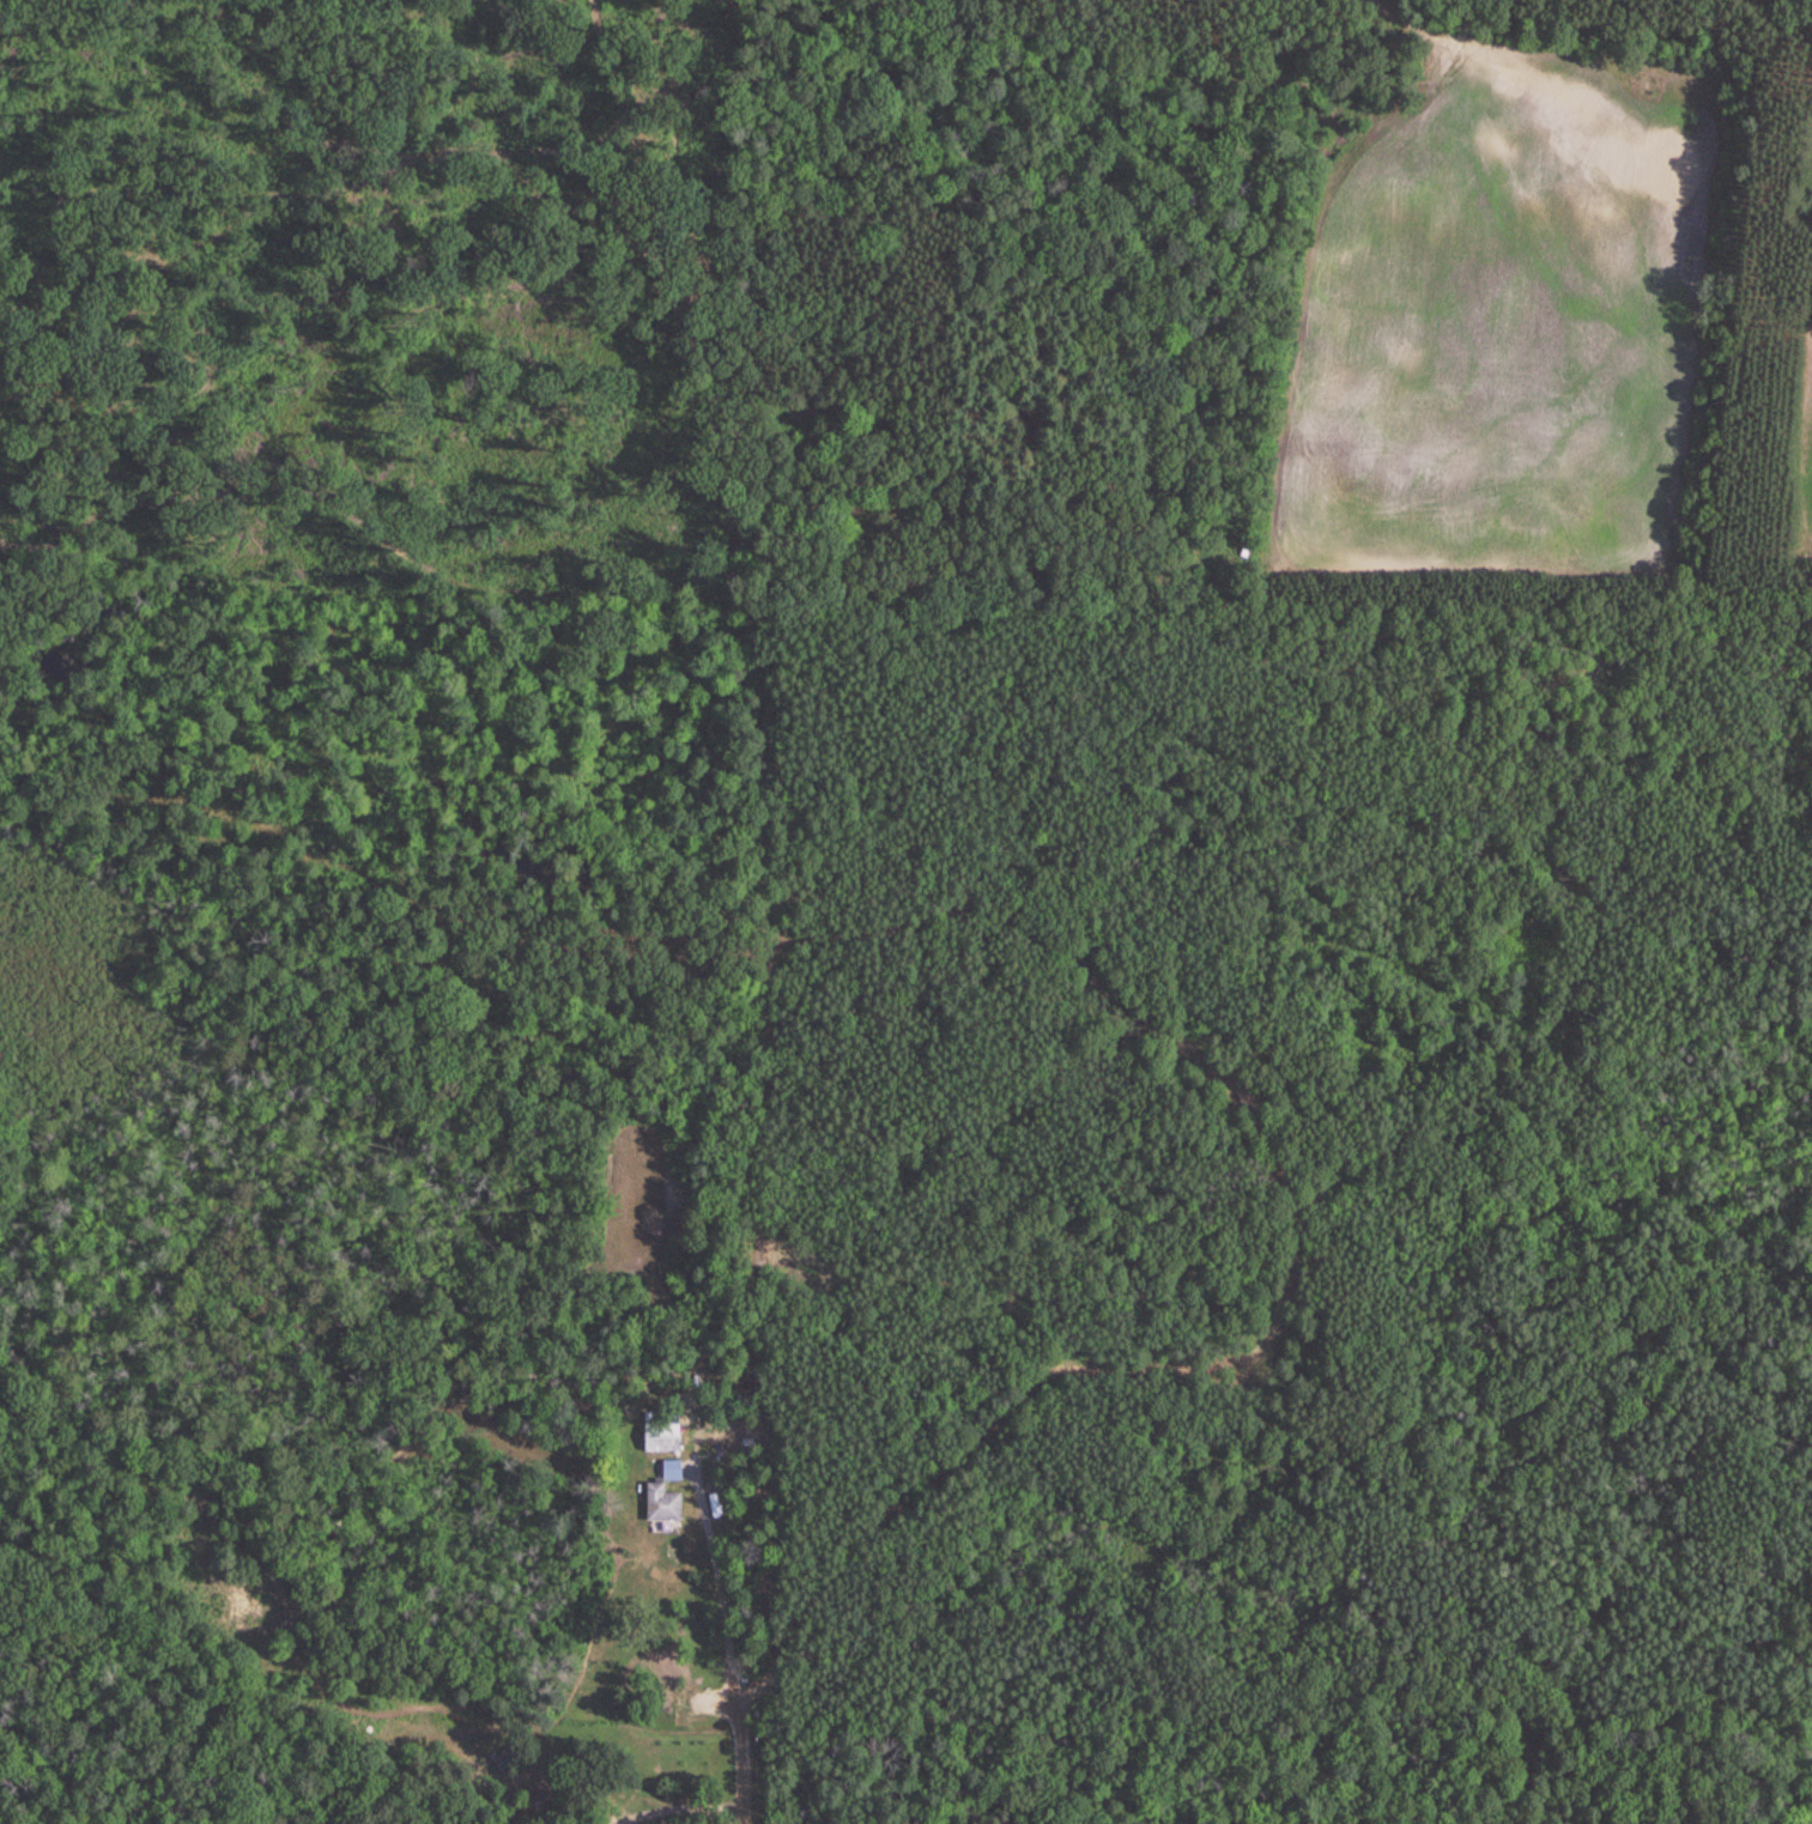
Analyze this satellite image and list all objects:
building: (655, 1441)
building: (657, 1504)
road: (741, 1731)
road: (672, 1804)

